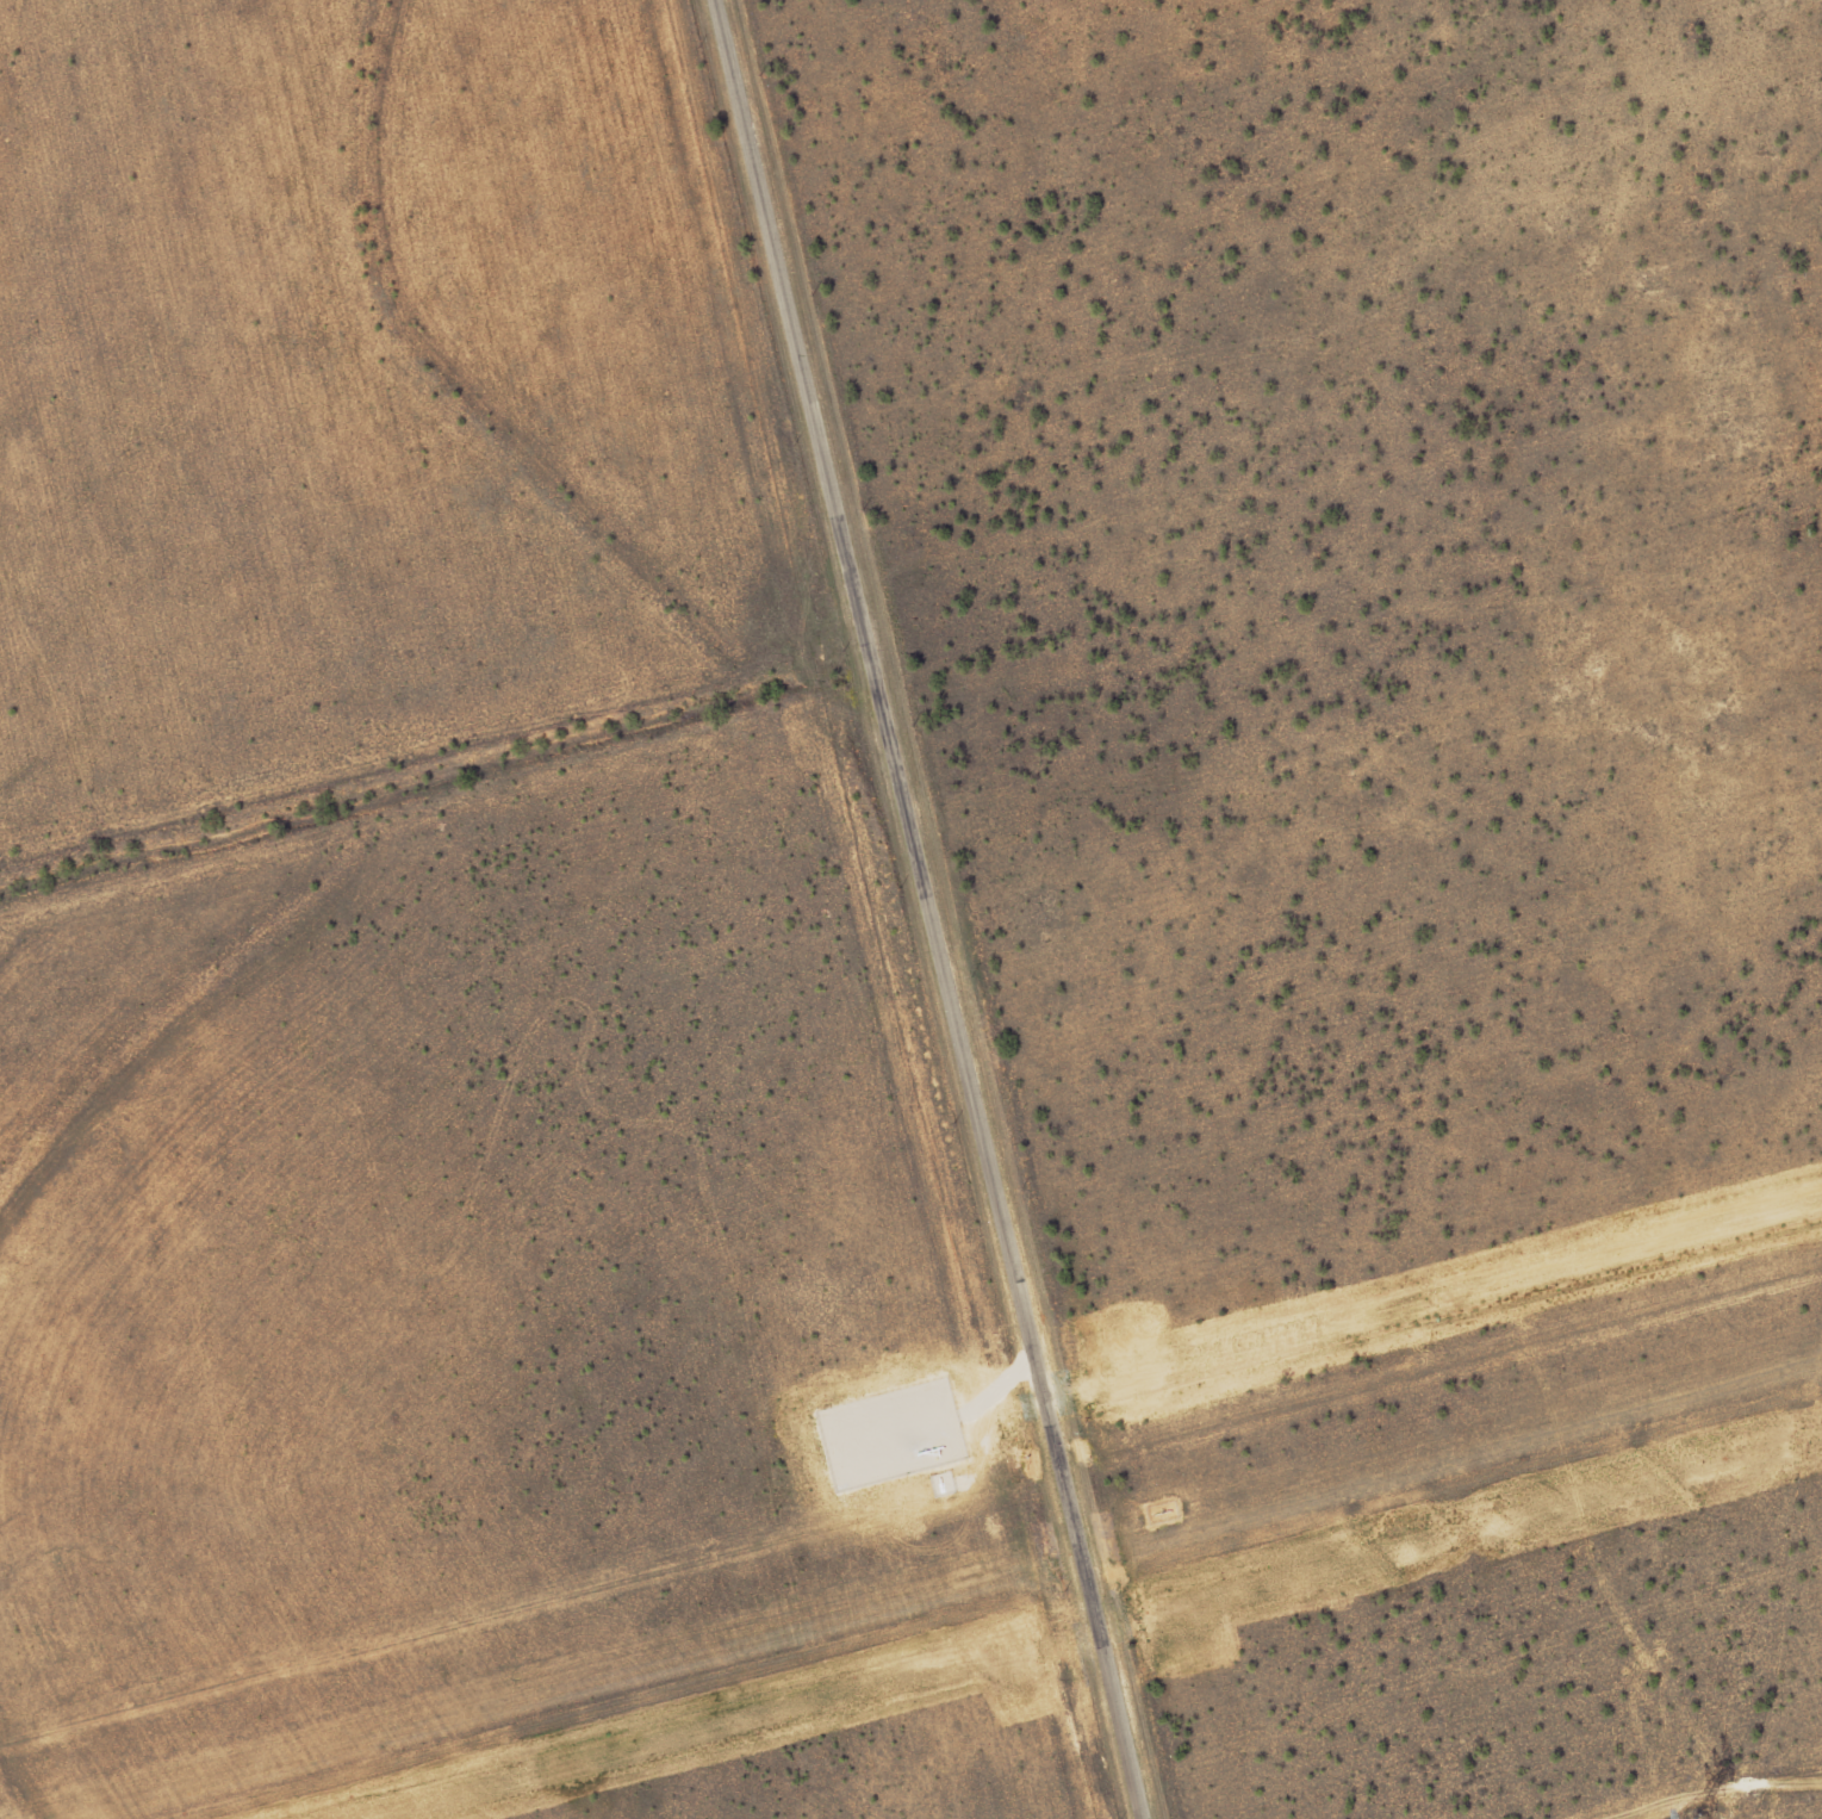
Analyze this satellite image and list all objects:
road: (436, 790)
road: (929, 907)

